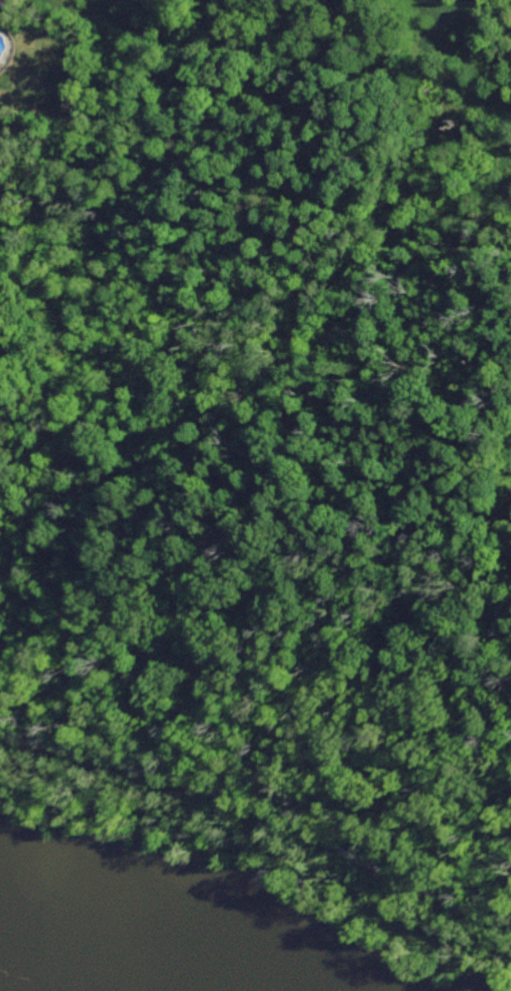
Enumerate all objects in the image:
building: (4, 1)
road: (260, 817)

